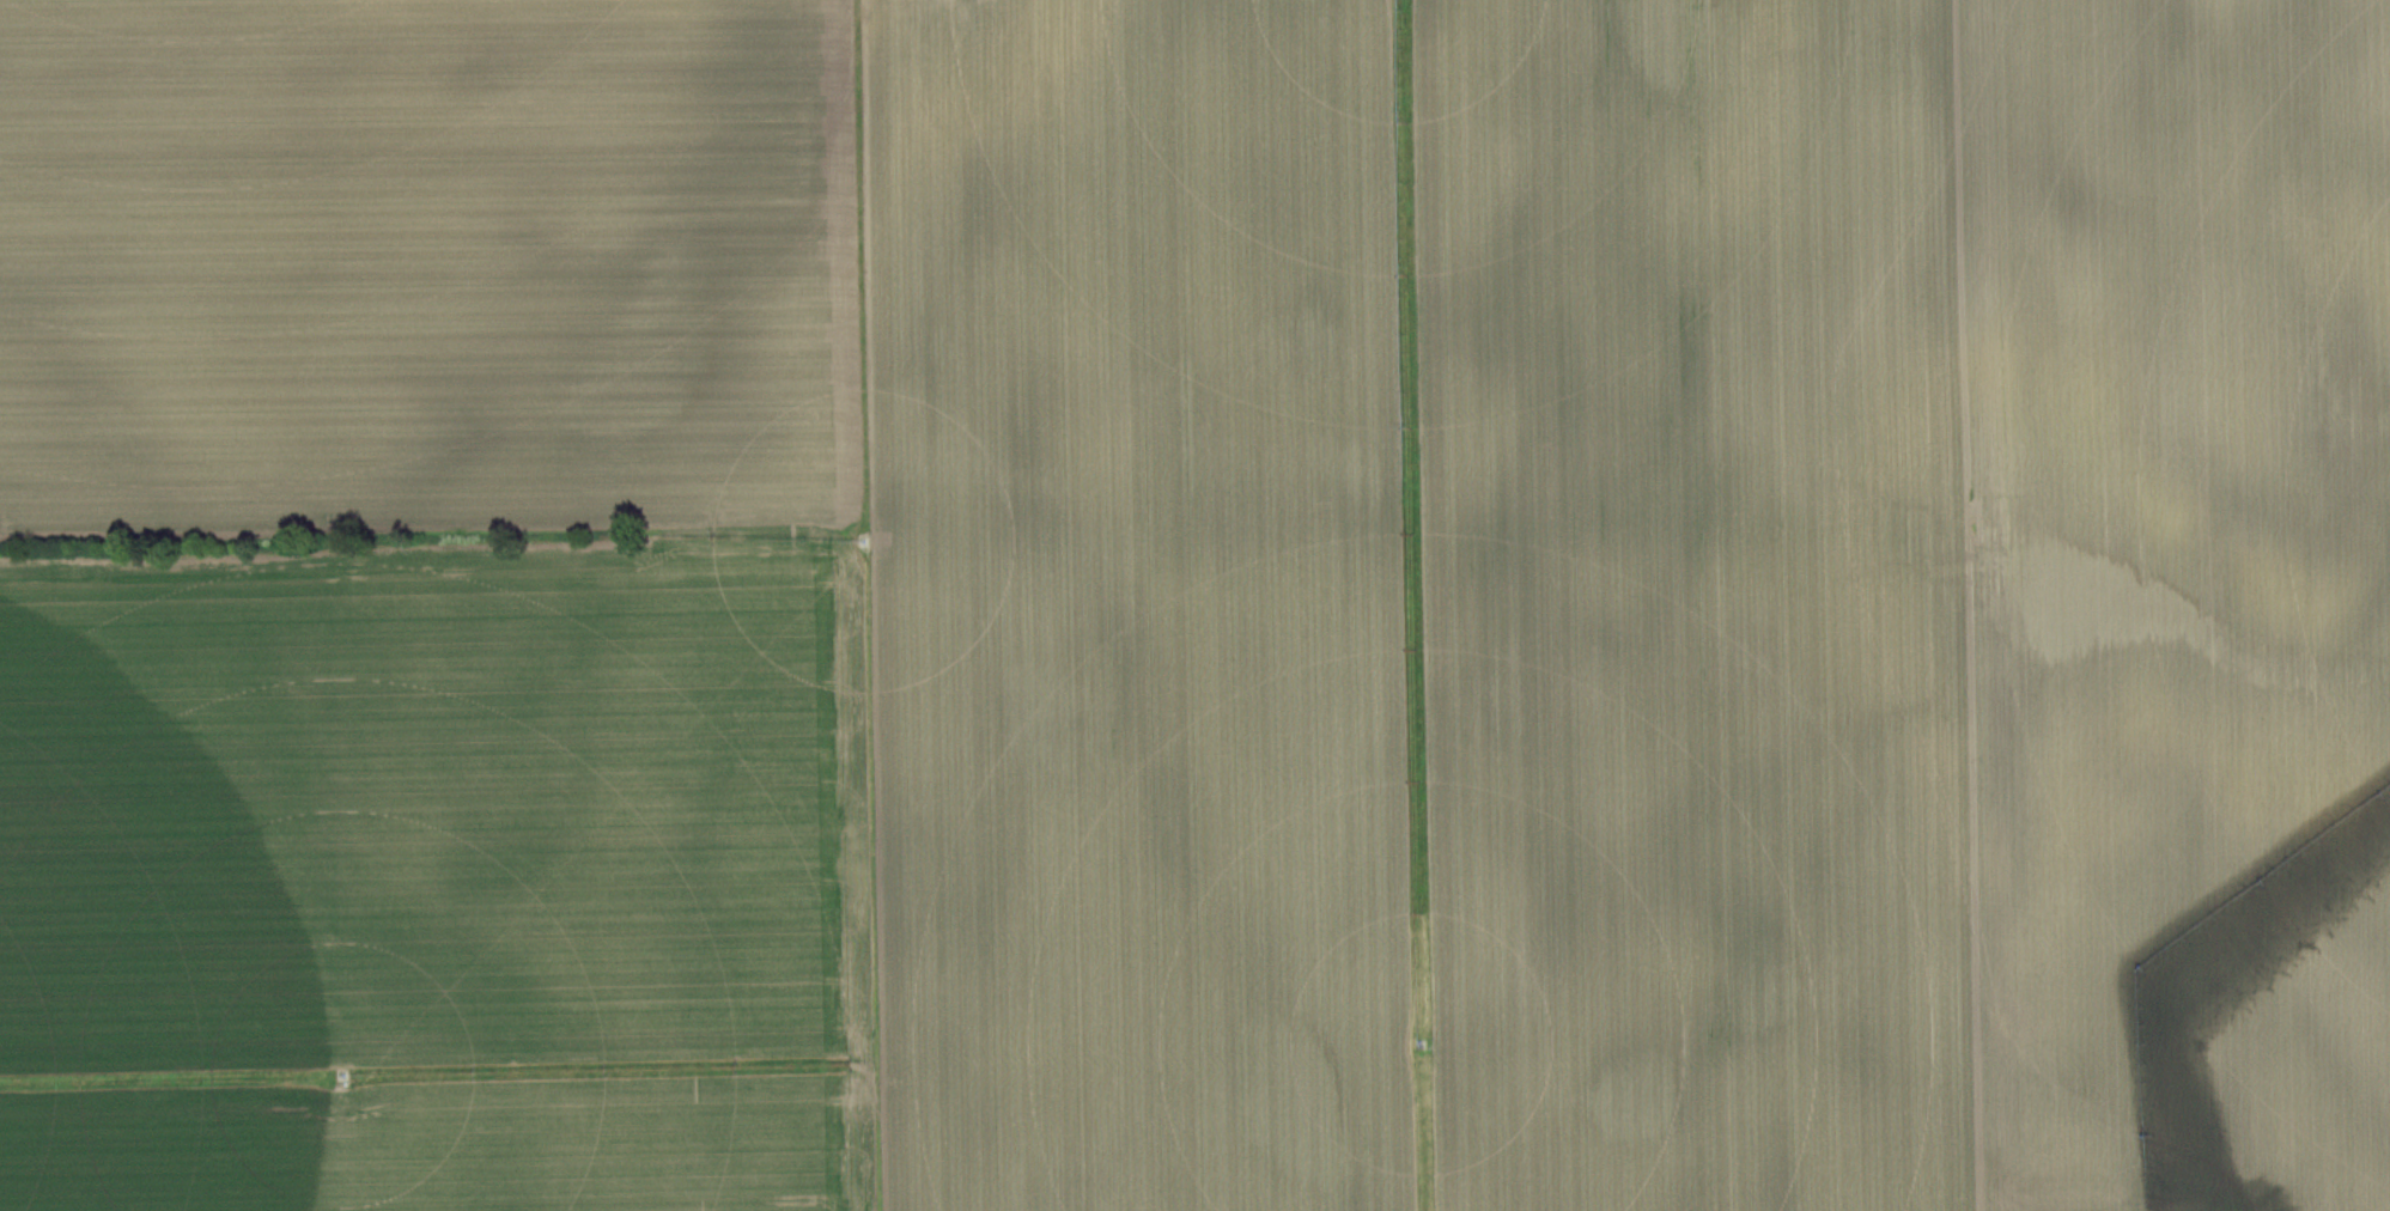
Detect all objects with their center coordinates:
crop: (433, 261)
crop: (2178, 601)
crop: (1136, 604)
crop: (1698, 605)
crop: (445, 868)

